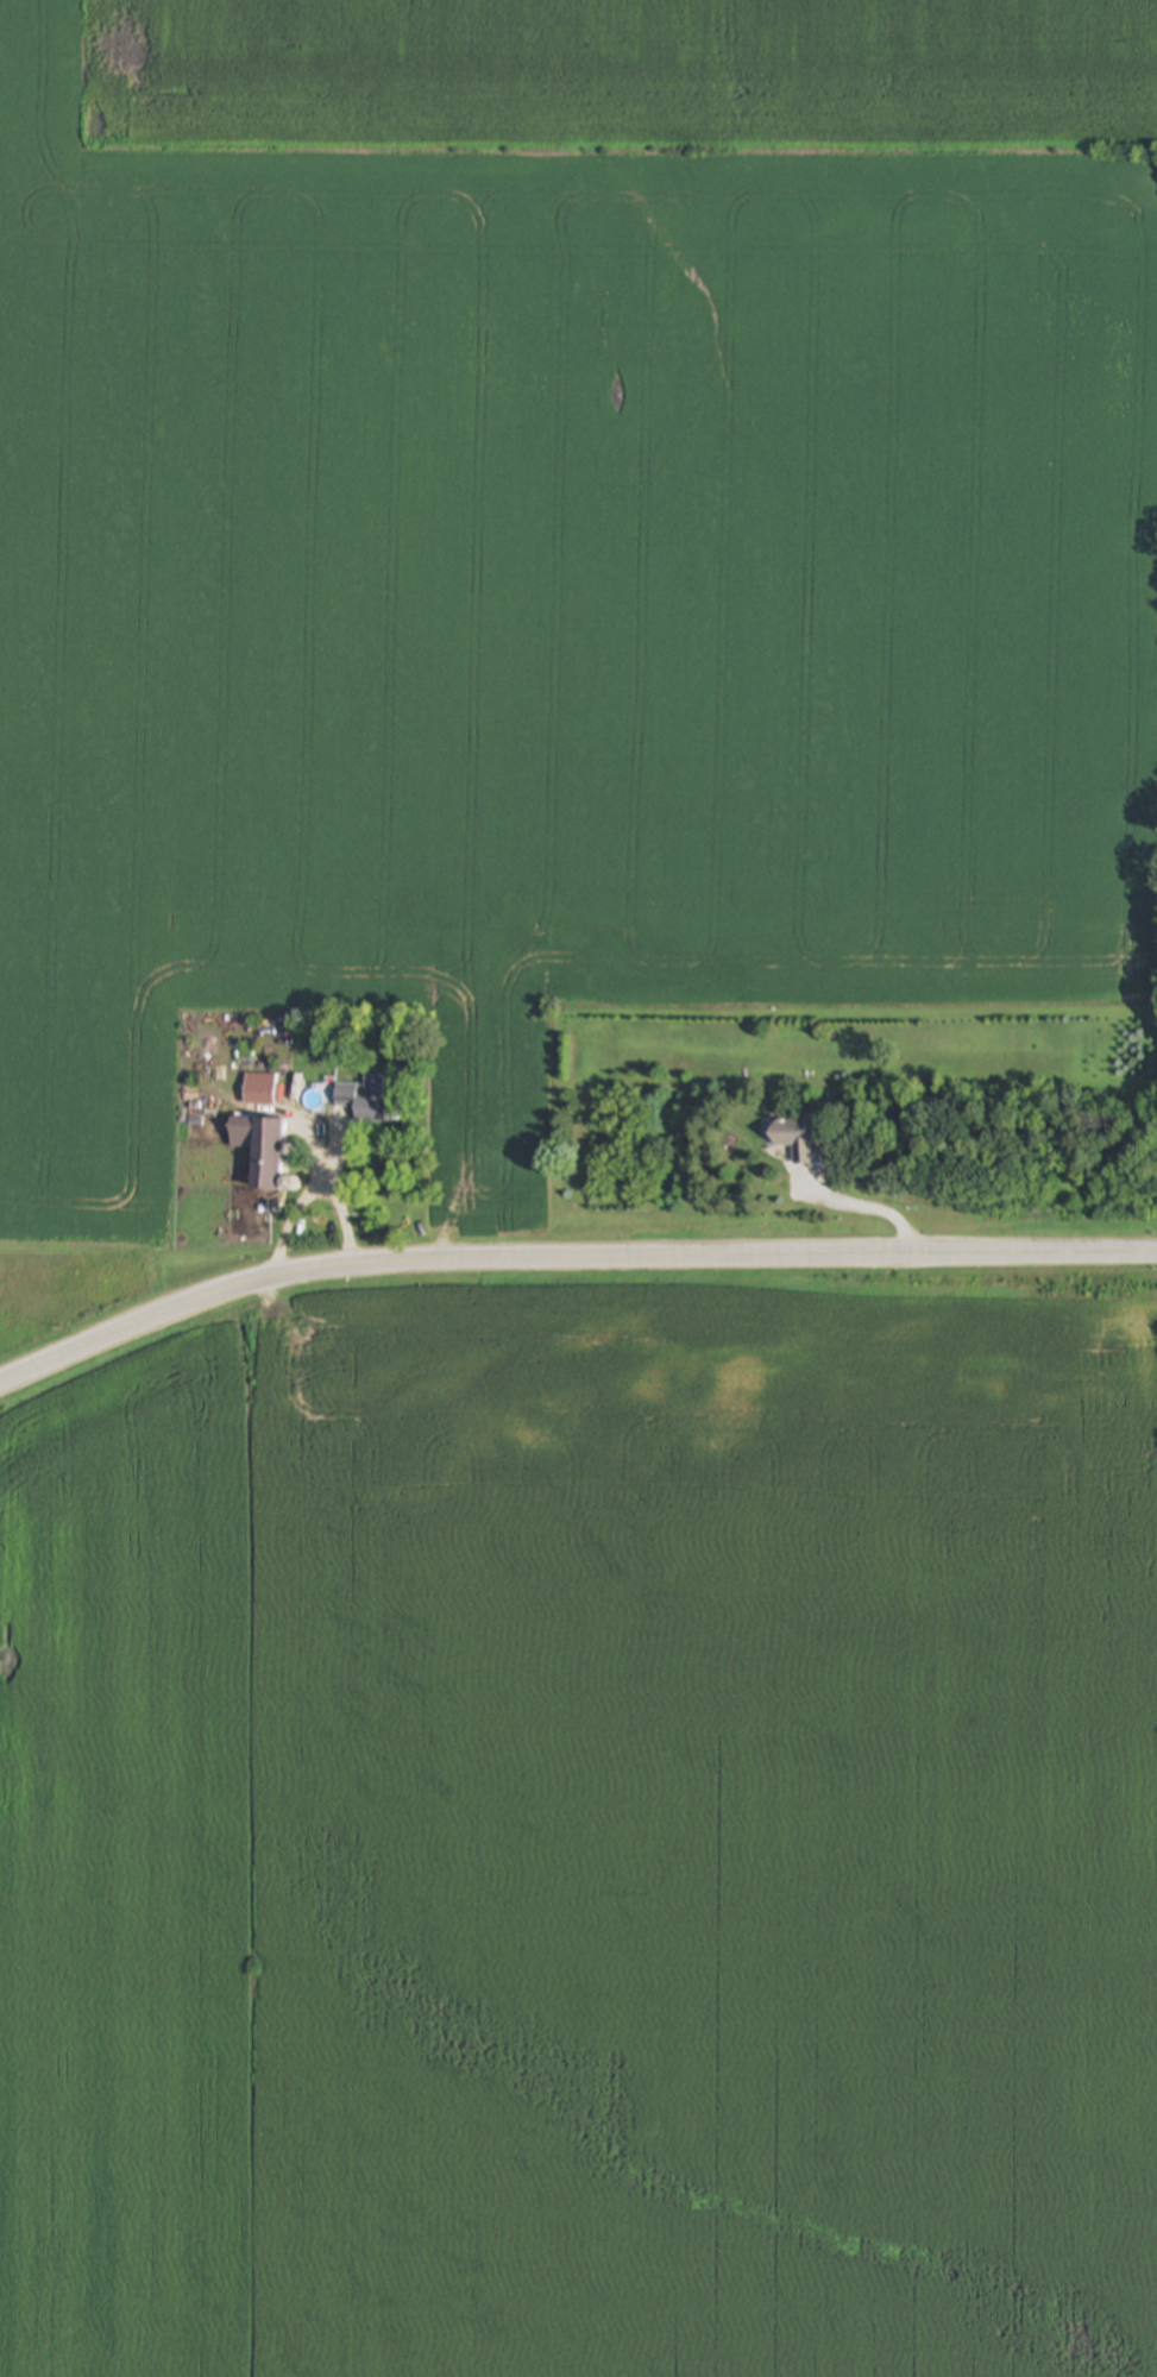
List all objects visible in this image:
building: (364, 1099)
building: (796, 1139)
building: (264, 1152)
road: (301, 1202)
road: (861, 1206)
road: (345, 1221)
road: (567, 1263)

